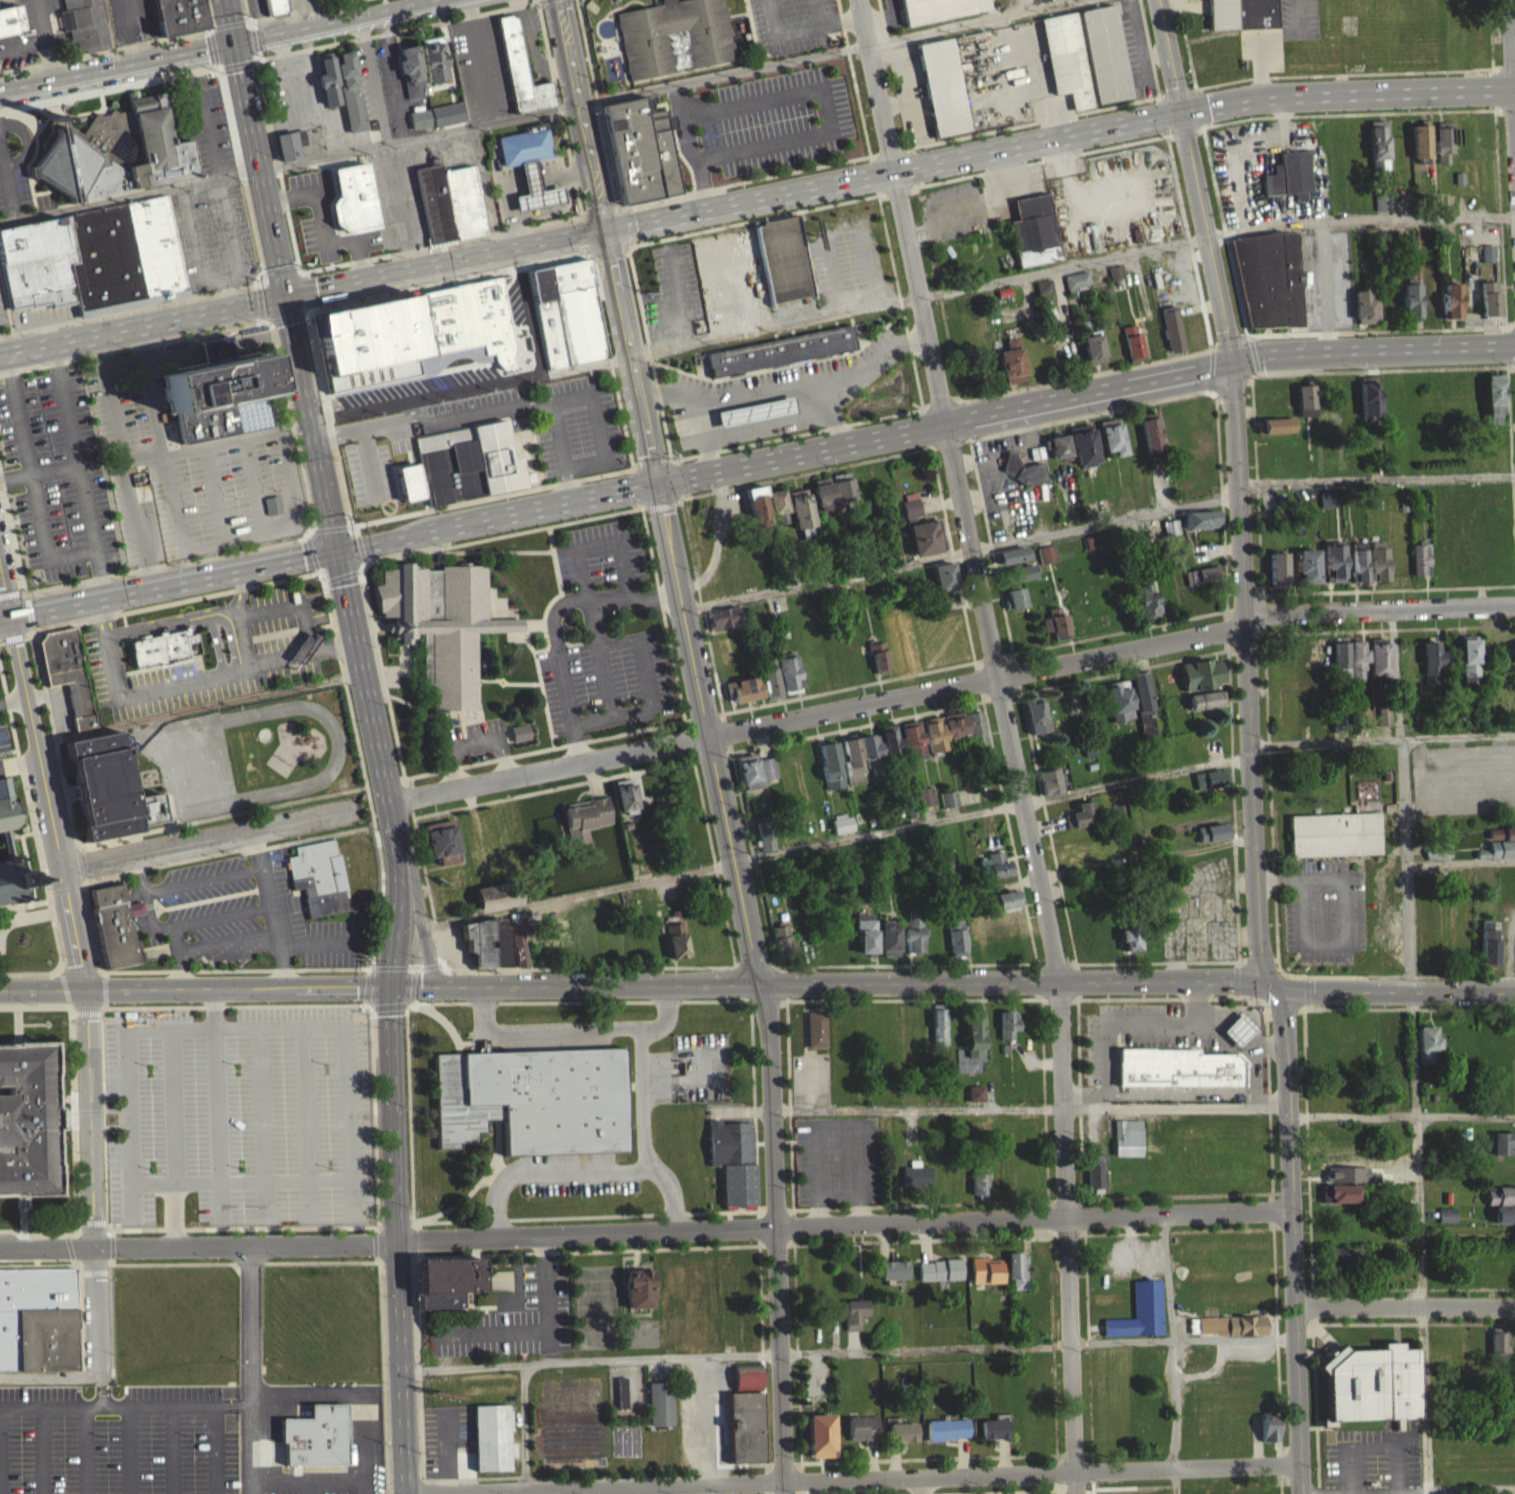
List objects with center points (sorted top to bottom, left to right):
building: (277, 6)
building: (939, 9)
road: (246, 10)
road: (840, 11)
road: (297, 12)
road: (815, 13)
road: (208, 14)
building: (1242, 14)
road: (1513, 14)
building: (179, 15)
road: (229, 20)
road: (335, 21)
building: (9, 22)
building: (83, 24)
road: (229, 24)
road: (250, 24)
parking lot: (793, 24)
road: (396, 30)
road: (802, 30)
road: (210, 31)
parking lot: (1281, 34)
building: (674, 36)
road: (1265, 36)
road: (254, 38)
traffic signals: (233, 42)
road: (1491, 43)
road: (1187, 44)
road: (214, 46)
road: (108, 50)
building: (1105, 53)
road: (1512, 54)
building: (1066, 57)
road: (479, 60)
road: (237, 63)
building: (434, 63)
road: (1504, 65)
road: (116, 66)
road: (220, 66)
parking lot: (480, 67)
building: (522, 71)
building: (411, 72)
road: (894, 73)
road: (1036, 73)
road: (1334, 74)
building: (327, 79)
building: (942, 87)
road: (111, 88)
building: (350, 93)
road: (858, 97)
road: (1201, 97)
road: (825, 106)
road: (1386, 111)
road: (538, 112)
traffic signals: (1181, 112)
building: (447, 113)
building: (420, 118)
parking lot: (776, 120)
road: (1233, 120)
road: (272, 142)
building: (290, 144)
building: (525, 144)
road: (688, 147)
building: (1420, 148)
building: (1378, 149)
building: (640, 150)
building: (114, 151)
building: (1443, 151)
road: (1056, 156)
road: (912, 166)
road: (1175, 172)
road: (875, 183)
building: (1289, 183)
road: (721, 185)
building: (535, 189)
road: (896, 194)
building: (354, 197)
road: (755, 200)
building: (464, 202)
building: (435, 203)
building: (1382, 210)
road: (1222, 218)
traffic signals: (604, 230)
road: (585, 234)
road: (1500, 234)
building: (1034, 238)
road: (606, 241)
building: (94, 256)
building: (783, 259)
parking lot: (841, 259)
building: (1487, 261)
road: (296, 263)
building: (707, 266)
road: (279, 267)
road: (868, 269)
road: (264, 271)
road: (304, 272)
building: (731, 274)
road: (833, 276)
road: (465, 278)
building: (1116, 279)
road: (259, 286)
road: (240, 288)
building: (1077, 288)
building: (1269, 288)
road: (307, 290)
building: (1043, 294)
road: (286, 296)
traffic signals: (286, 296)
parking lot: (673, 297)
road: (676, 299)
road: (898, 299)
road: (260, 301)
road: (911, 302)
building: (1488, 305)
building: (1429, 306)
road: (312, 307)
building: (1410, 308)
building: (1450, 308)
parking lot: (3, 310)
building: (577, 311)
parking lot: (794, 313)
building: (1364, 314)
road: (287, 316)
building: (548, 317)
road: (261, 318)
road: (265, 319)
building: (1171, 336)
road: (1249, 336)
road: (1222, 340)
building: (425, 341)
building: (1132, 350)
road: (1211, 350)
building: (781, 351)
road: (649, 353)
road: (1253, 353)
building: (1093, 355)
traffic signals: (1232, 358)
road: (782, 365)
building: (1011, 369)
road: (1381, 369)
road: (1211, 370)
road: (1257, 371)
road: (1229, 382)
parking lot: (771, 385)
road: (787, 389)
building: (216, 394)
road: (931, 402)
building: (1492, 405)
building: (1368, 406)
building: (1305, 408)
building: (755, 413)
gas station: (755, 413)
road: (830, 414)
road: (964, 419)
road: (925, 427)
road: (925, 428)
building: (1276, 433)
road: (704, 437)
building: (1150, 438)
building: (1111, 444)
building: (1083, 452)
building: (1057, 454)
building: (467, 461)
road: (650, 461)
road: (79, 469)
road: (38, 472)
parking lot: (186, 472)
parking lot: (55, 477)
road: (683, 477)
building: (1023, 478)
road: (33, 479)
traffic signals: (657, 482)
road: (1238, 487)
road: (632, 488)
road: (307, 494)
road: (693, 494)
building: (842, 494)
road: (662, 503)
building: (823, 503)
building: (273, 504)
road: (643, 506)
building: (1327, 507)
building: (910, 512)
building: (756, 515)
building: (799, 517)
road: (383, 518)
road: (349, 525)
road: (331, 527)
building: (1200, 527)
road: (314, 529)
road: (356, 529)
building: (1170, 535)
building: (925, 544)
road: (360, 545)
traffic signals: (340, 550)
road: (496, 550)
parking lot: (601, 553)
road: (438, 557)
road: (364, 560)
building: (1046, 561)
building: (1009, 563)
building: (1420, 567)
building: (1378, 568)
building: (1333, 570)
building: (1305, 573)
building: (1358, 573)
building: (1277, 576)
building: (1016, 581)
building: (1200, 582)
road: (170, 584)
road: (583, 584)
building: (944, 584)
road: (239, 594)
road: (558, 594)
building: (1014, 606)
road: (683, 608)
building: (1145, 609)
road: (269, 612)
traffic signals: (10, 616)
road: (187, 621)
road: (535, 621)
road: (553, 621)
building: (442, 623)
road: (665, 623)
building: (723, 625)
road: (375, 626)
road: (388, 626)
building: (1055, 630)
parking lot: (283, 646)
building: (164, 647)
road: (1109, 652)
building: (878, 654)
building: (1378, 664)
building: (1340, 667)
building: (68, 668)
building: (1431, 668)
building: (1468, 668)
building: (1357, 669)
road: (382, 672)
road: (365, 675)
road: (541, 680)
building: (788, 680)
road: (190, 681)
parking lot: (606, 681)
building: (1200, 682)
parking lot: (0, 685)
building: (769, 685)
road: (652, 692)
building: (743, 697)
road: (13, 698)
building: (1139, 698)
road: (200, 706)
building: (1118, 707)
building: (1206, 707)
road: (479, 711)
road: (30, 717)
building: (1383, 723)
building: (1036, 724)
building: (1145, 729)
building: (1337, 730)
building: (954, 732)
building: (975, 735)
parking lot: (4, 737)
parking lot: (473, 737)
building: (517, 740)
building: (934, 741)
road: (1008, 741)
road: (475, 742)
building: (912, 746)
building: (890, 747)
road: (19, 761)
building: (861, 766)
road: (549, 768)
building: (830, 773)
building: (767, 776)
building: (748, 779)
building: (1209, 786)
building: (108, 787)
building: (1050, 789)
road: (410, 796)
building: (624, 803)
building: (926, 804)
road: (269, 805)
building: (948, 806)
building: (7, 815)
building: (1081, 822)
building: (584, 824)
road: (140, 831)
building: (841, 831)
road: (225, 833)
building: (1211, 840)
building: (763, 841)
building: (1501, 841)
building: (1333, 842)
road: (229, 849)
building: (442, 849)
road: (735, 858)
building: (1497, 858)
building: (1436, 859)
building: (994, 873)
building: (318, 876)
building: (11, 879)
road: (397, 893)
building: (1003, 908)
building: (113, 925)
building: (1006, 925)
building: (913, 939)
building: (864, 940)
building: (1130, 942)
building: (955, 943)
building: (675, 947)
building: (781, 947)
building: (888, 947)
building: (486, 949)
building: (1488, 949)
building: (518, 954)
road: (142, 970)
road: (1014, 980)
traffic signals: (1267, 981)
road: (575, 983)
traffic signals: (389, 985)
road: (1391, 985)
road: (194, 988)
road: (1265, 1008)
road: (668, 1015)
road: (1116, 1022)
road: (238, 1026)
road: (609, 1031)
building: (1007, 1032)
building: (937, 1034)
building: (815, 1037)
building: (1238, 1037)
road: (1222, 1040)
building: (1427, 1051)
building: (971, 1053)
road: (88, 1054)
road: (1253, 1060)
building: (1177, 1075)
building: (975, 1100)
road: (216, 1102)
building: (533, 1106)
road: (1175, 1107)
parking lot: (241, 1114)
building: (26, 1116)
road: (261, 1121)
road: (304, 1121)
road: (172, 1135)
building: (1127, 1136)
building: (1503, 1150)
building: (1126, 1154)
building: (733, 1168)
road: (548, 1173)
building: (1095, 1179)
road: (241, 1180)
building: (915, 1182)
building: (979, 1188)
road: (669, 1193)
building: (1339, 1201)
building: (1500, 1203)
building: (1446, 1222)
building: (1504, 1222)
road: (644, 1228)
road: (1291, 1235)
road: (776, 1237)
road: (396, 1239)
building: (1514, 1243)
road: (793, 1247)
building: (1343, 1263)
road: (1165, 1274)
building: (891, 1278)
building: (939, 1278)
building: (985, 1278)
building: (1017, 1278)
building: (446, 1288)
building: (638, 1296)
road: (1404, 1302)
road: (97, 1308)
road: (248, 1320)
building: (1139, 1320)
building: (854, 1321)
building: (37, 1326)
building: (1229, 1332)
road: (1173, 1340)
road: (1122, 1341)
building: (1499, 1352)
road: (738, 1355)
road: (50, 1372)
building: (746, 1383)
road: (100, 1387)
building: (1371, 1391)
road: (359, 1396)
road: (1425, 1397)
road: (233, 1400)
building: (620, 1400)
road: (107, 1402)
building: (659, 1411)
building: (1510, 1425)
building: (741, 1433)
building: (1268, 1435)
building: (862, 1436)
building: (993, 1436)
building: (946, 1437)
parking lot: (121, 1439)
building: (901, 1439)
building: (819, 1443)
building: (315, 1444)
road: (253, 1445)
building: (490, 1445)
road: (215, 1447)
road: (875, 1476)
road: (1174, 1479)
road: (1408, 1492)

